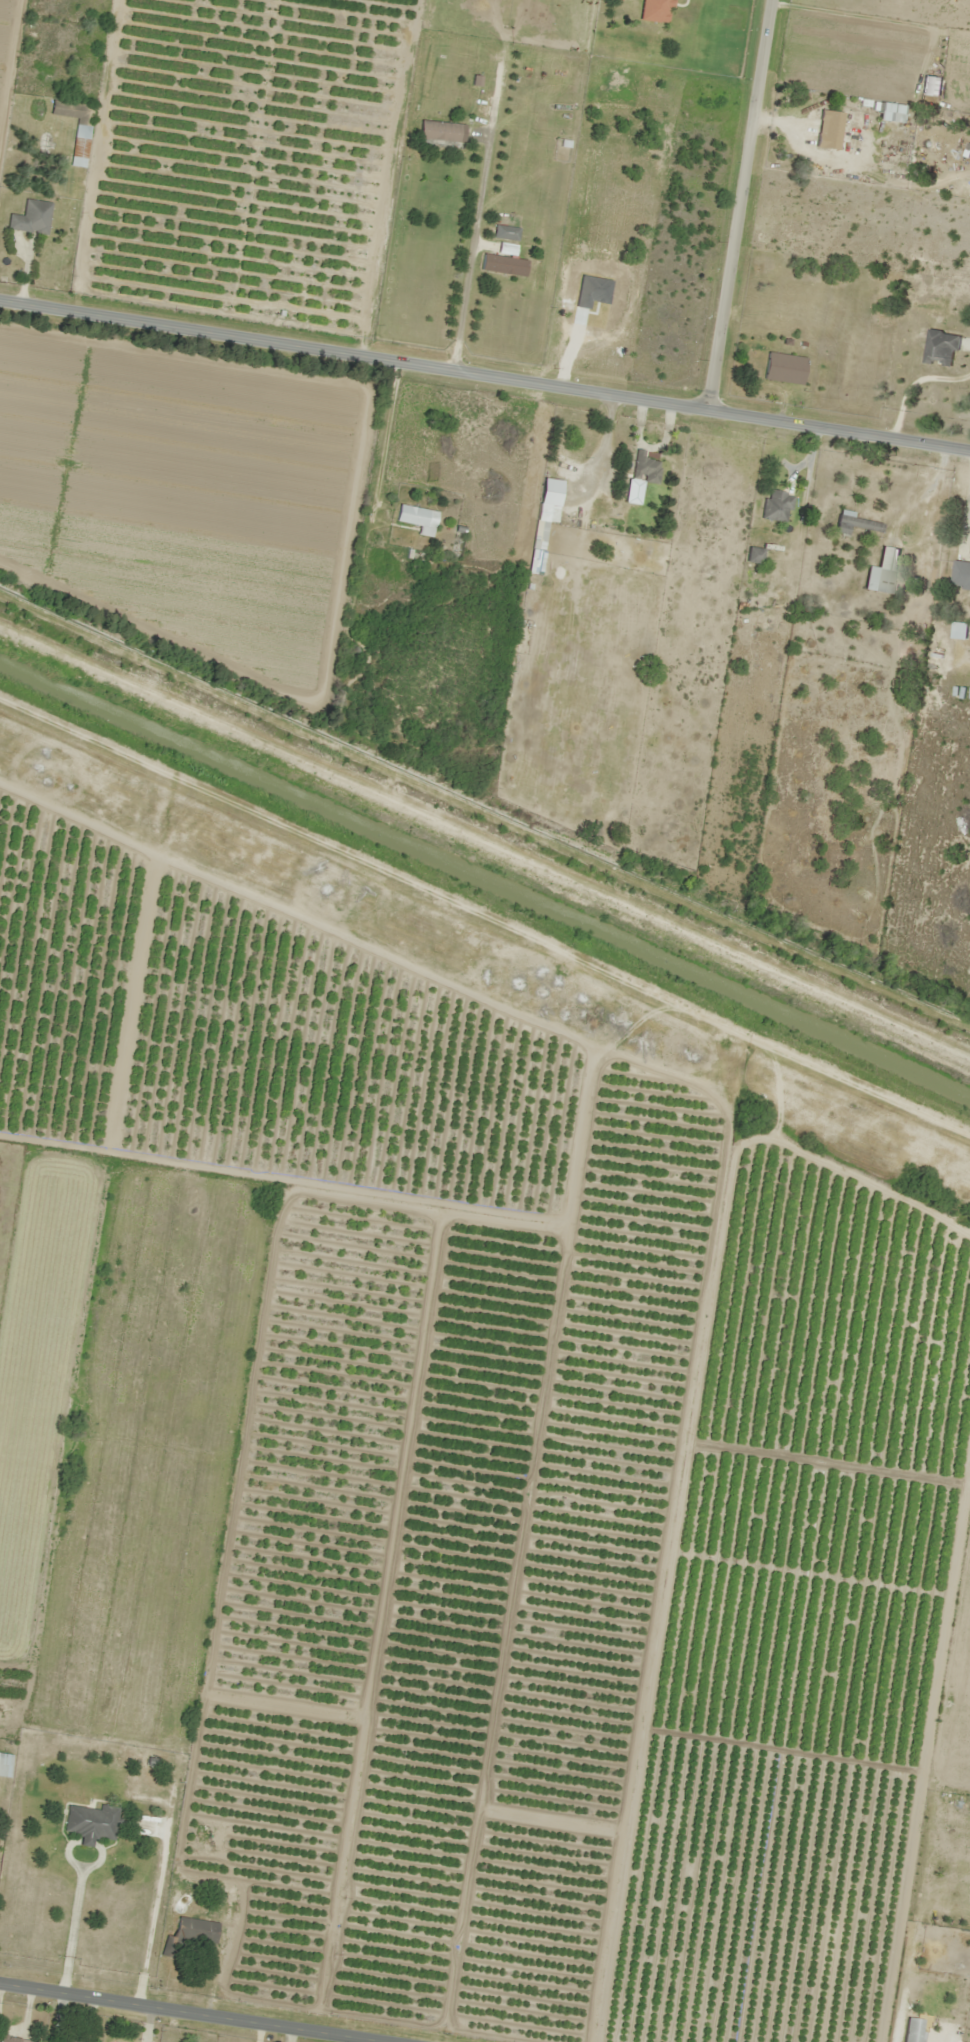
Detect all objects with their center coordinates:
building: (654, 10)
building: (927, 85)
building: (75, 127)
building: (846, 130)
building: (437, 131)
road: (755, 205)
building: (31, 217)
building: (504, 232)
building: (502, 265)
building: (939, 347)
building: (782, 367)
road: (484, 373)
building: (643, 467)
building: (416, 518)
building: (543, 520)
building: (855, 523)
building: (752, 555)
building: (881, 571)
building: (960, 575)
building: (2, 1764)
building: (90, 1823)
building: (194, 1929)
road: (173, 2014)
building: (71, 2037)
building: (11, 2039)

